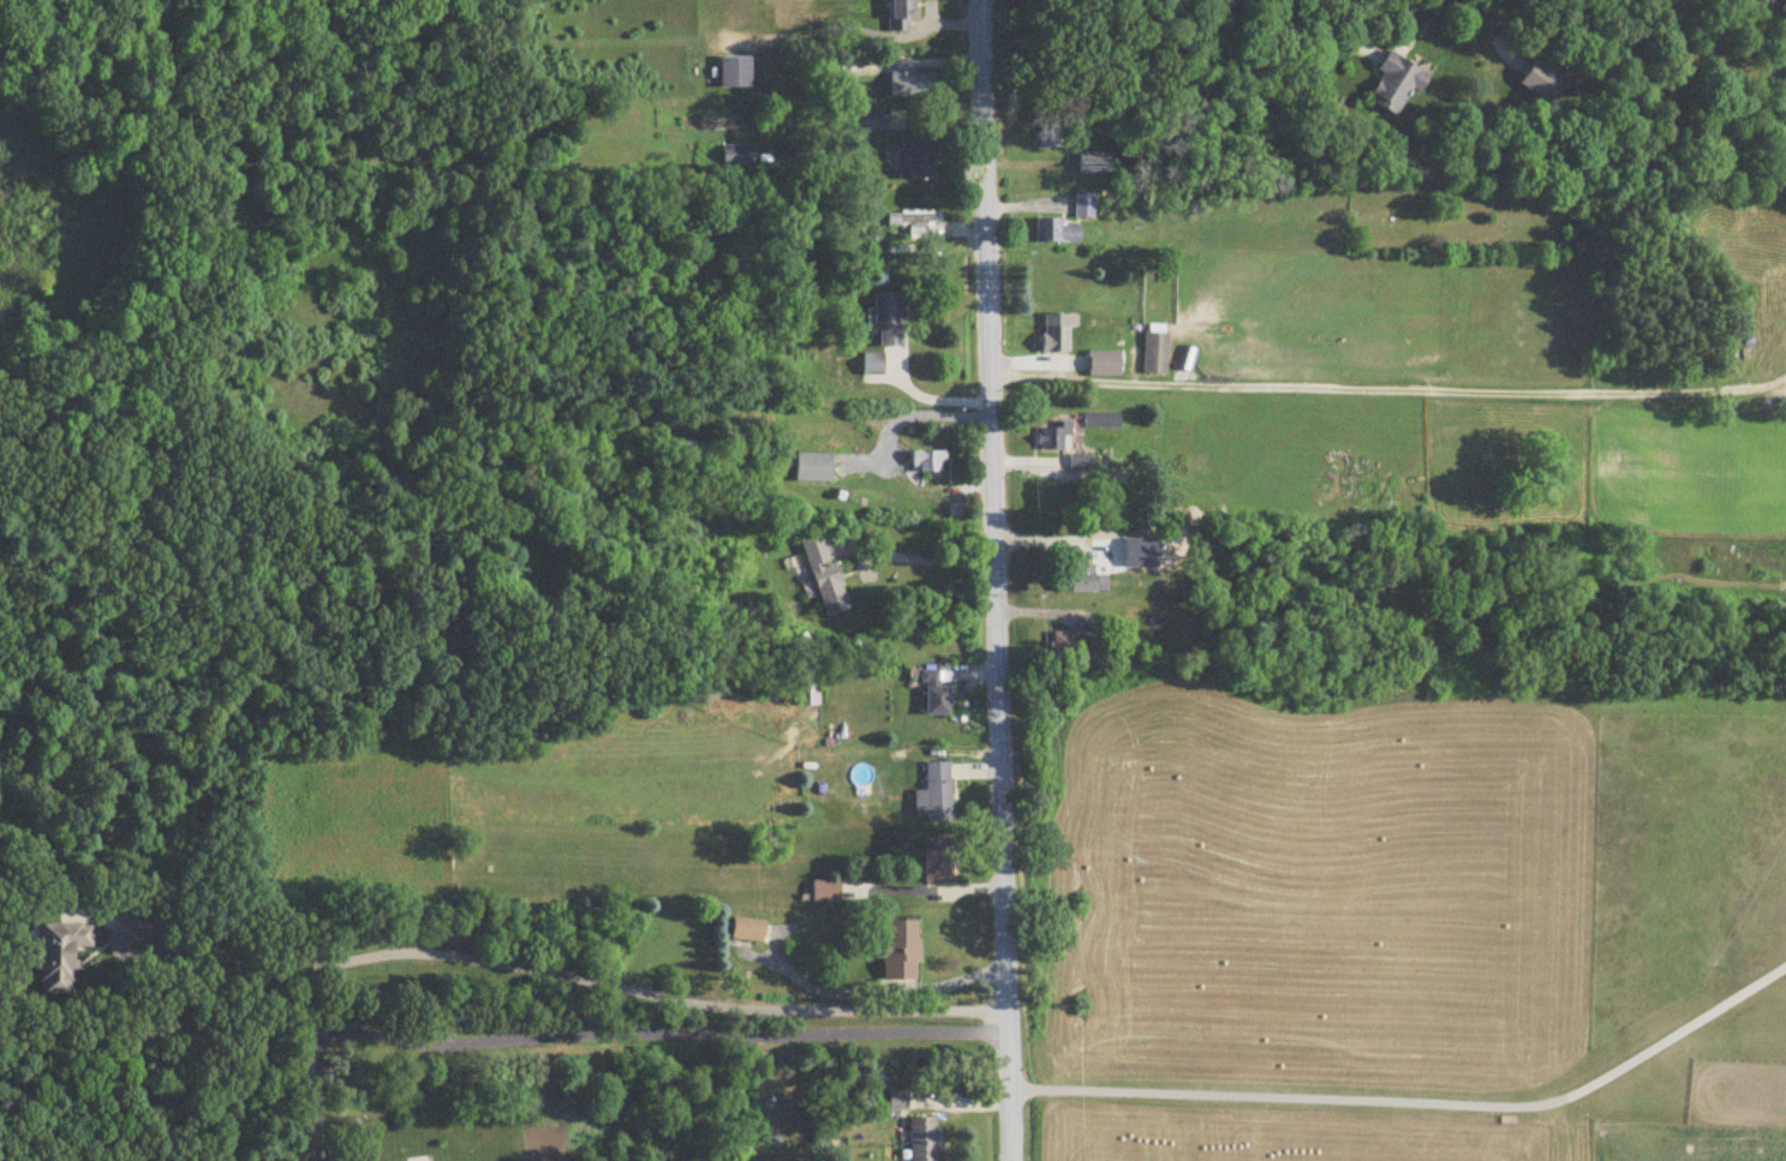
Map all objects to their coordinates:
building: (901, 16)
road: (1315, 35)
building: (736, 73)
building: (1542, 83)
building: (1397, 84)
building: (912, 85)
building: (872, 121)
building: (1053, 137)
building: (740, 158)
building: (916, 160)
building: (1097, 164)
building: (1200, 205)
building: (1085, 207)
building: (914, 221)
building: (1056, 233)
building: (889, 321)
building: (1058, 333)
building: (1157, 355)
building: (1106, 364)
building: (873, 365)
road: (1387, 390)
building: (1103, 421)
building: (1053, 438)
building: (928, 462)
building: (814, 468)
building: (1141, 545)
road: (930, 559)
building: (825, 575)
road: (994, 580)
building: (1086, 580)
building: (1069, 646)
building: (1095, 648)
building: (808, 695)
building: (936, 696)
building: (936, 795)
building: (938, 861)
road: (937, 891)
building: (826, 892)
building: (747, 930)
building: (901, 951)
building: (60, 956)
road: (573, 976)
road: (601, 1034)
building: (898, 1102)
road: (1416, 1102)
building: (924, 1139)

